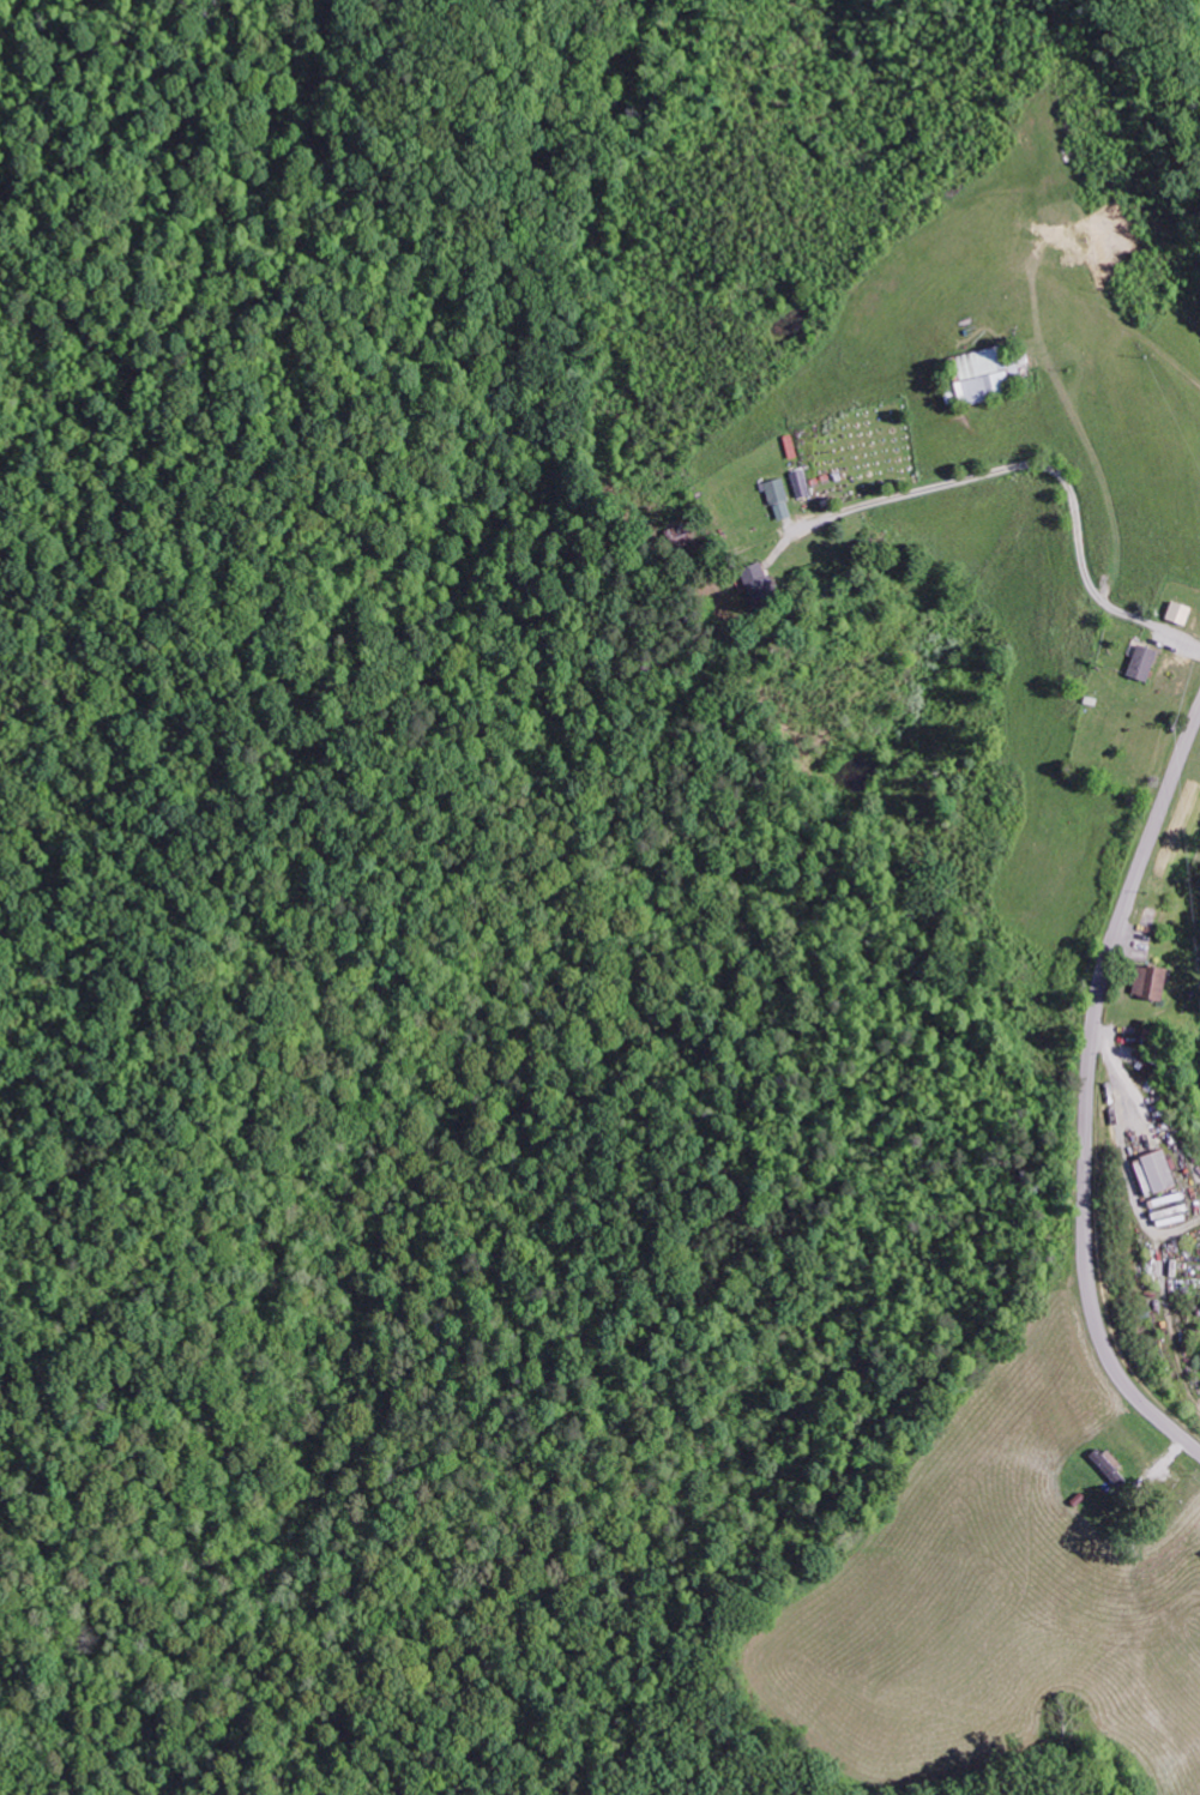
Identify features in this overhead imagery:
building: (984, 373)
building: (798, 482)
building: (777, 498)
building: (752, 577)
building: (1176, 612)
building: (1139, 662)
building: (1147, 982)
road: (1087, 1094)
building: (1151, 1171)
building: (1105, 1466)

